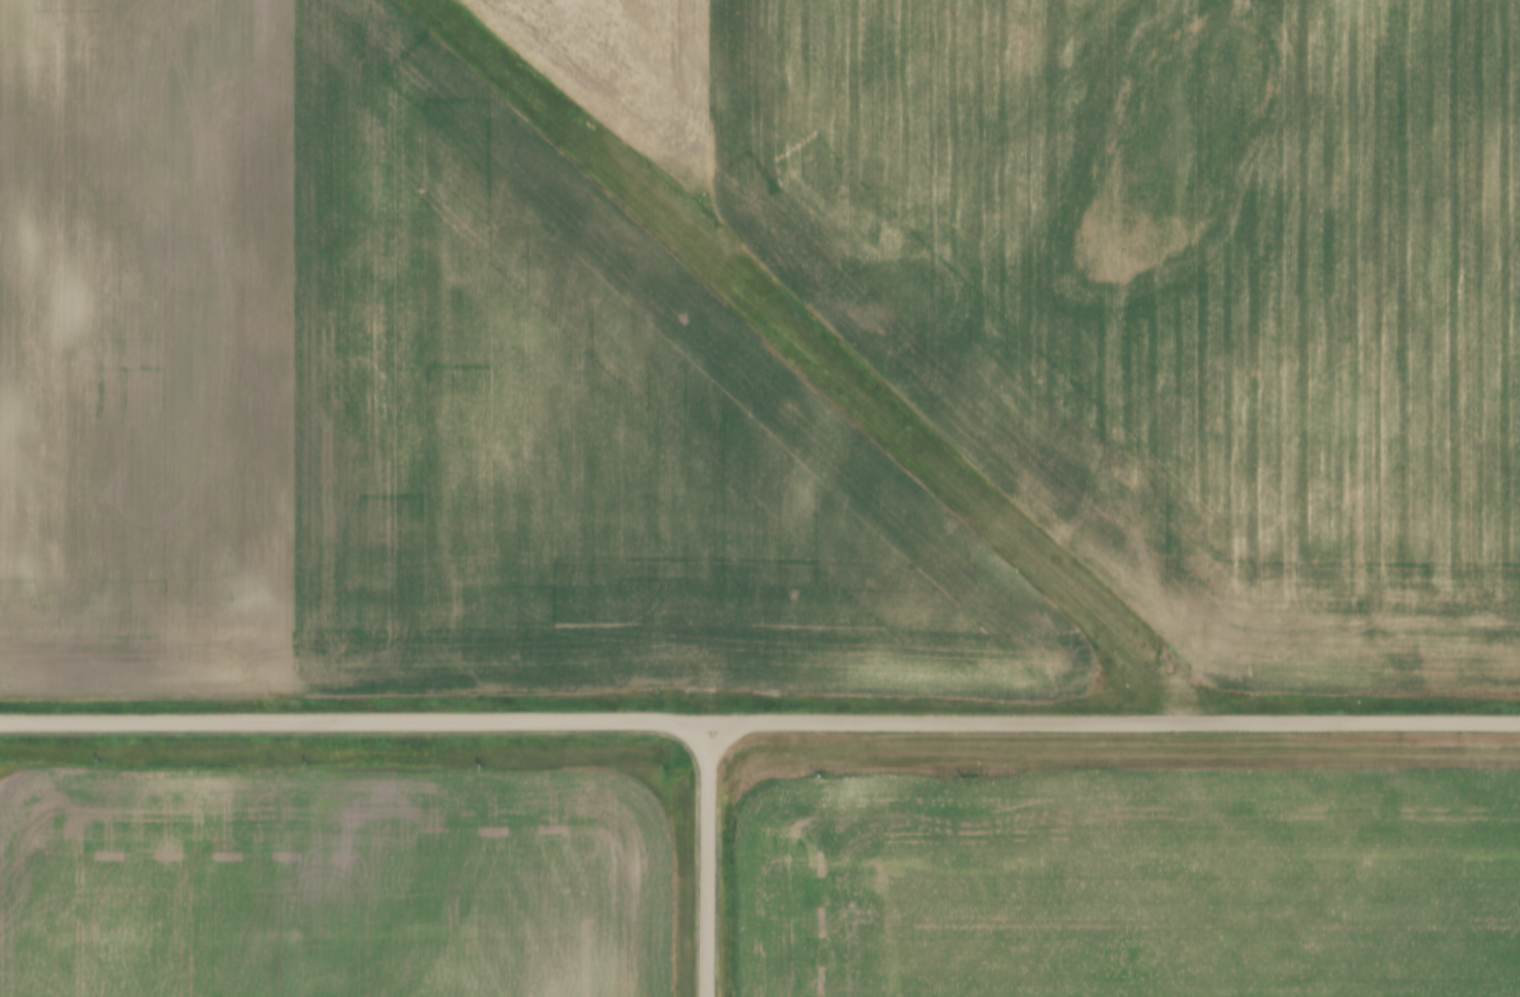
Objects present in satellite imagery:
airport runway: (786, 330)
airport taxiway: (1170, 689)
road: (760, 722)
road: (708, 860)

